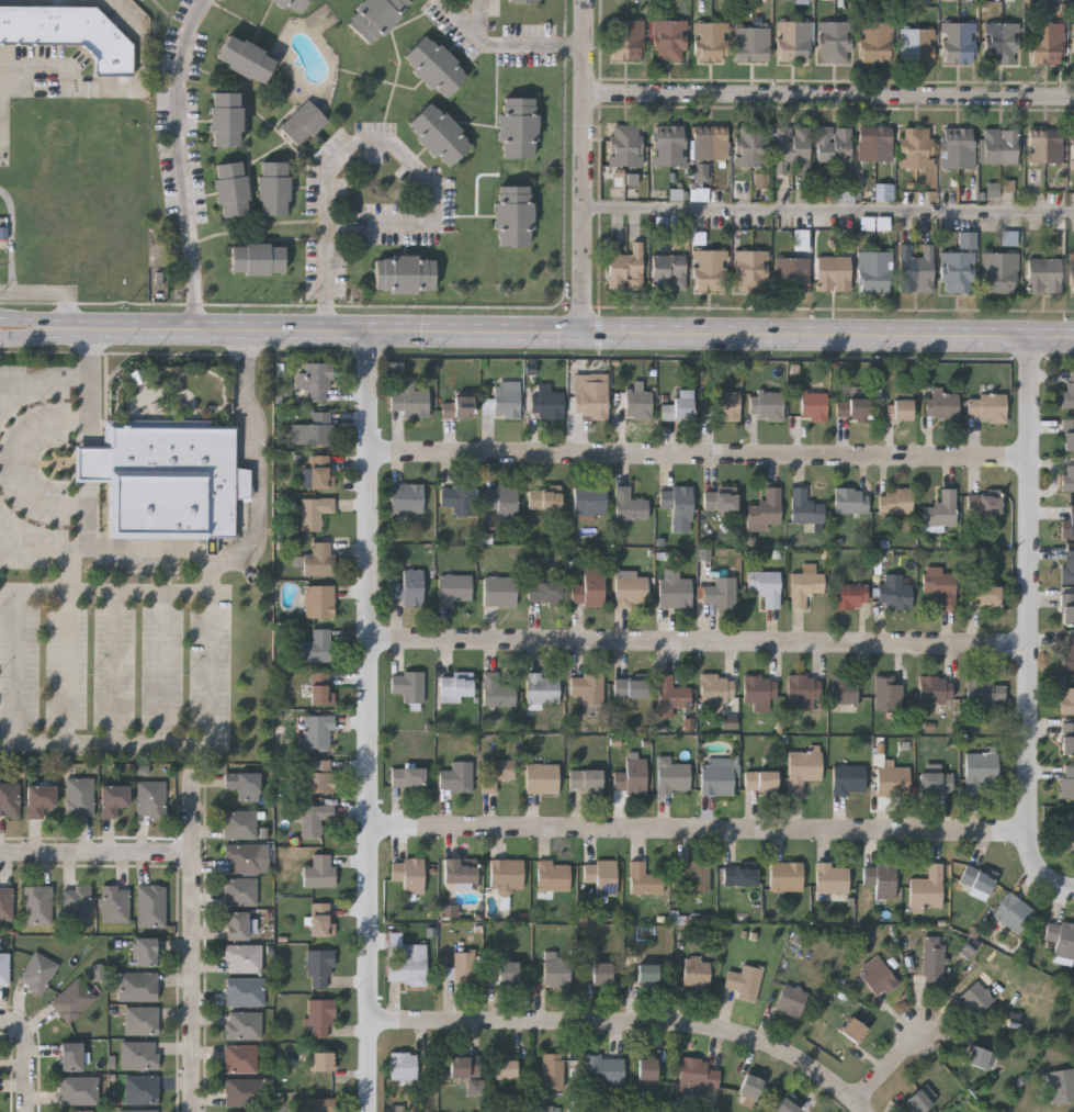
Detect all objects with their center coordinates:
building: (522, 1)
building: (802, 1)
building: (292, 3)
building: (374, 16)
road: (482, 18)
building: (69, 32)
building: (628, 42)
building: (670, 43)
building: (794, 43)
building: (836, 43)
building: (711, 44)
building: (877, 44)
road: (506, 45)
building: (959, 45)
building: (1002, 45)
building: (1048, 45)
building: (1073, 45)
building: (753, 46)
building: (917, 48)
building: (242, 56)
building: (432, 66)
road: (122, 86)
road: (830, 96)
building: (223, 117)
building: (303, 122)
building: (517, 125)
building: (438, 133)
road: (373, 143)
building: (710, 144)
building: (625, 146)
building: (834, 146)
building: (875, 146)
building: (1044, 146)
building: (669, 147)
building: (1000, 147)
building: (751, 148)
building: (792, 149)
building: (917, 149)
building: (959, 150)
building: (1073, 150)
road: (181, 162)
road: (586, 165)
building: (701, 172)
building: (272, 186)
building: (229, 187)
building: (994, 190)
building: (885, 192)
road: (829, 207)
building: (512, 214)
building: (969, 240)
building: (257, 258)
building: (625, 269)
building: (916, 270)
building: (710, 271)
building: (403, 272)
building: (751, 272)
building: (669, 273)
building: (834, 273)
building: (874, 273)
building: (958, 273)
building: (1000, 274)
building: (1072, 276)
building: (792, 277)
building: (1044, 278)
road: (48, 292)
road: (46, 318)
road: (583, 330)
road: (46, 337)
building: (315, 379)
road: (43, 380)
road: (91, 385)
building: (1067, 391)
building: (590, 397)
building: (501, 398)
building: (407, 400)
building: (545, 402)
building: (637, 403)
building: (725, 403)
building: (765, 403)
building: (677, 404)
building: (813, 404)
building: (941, 404)
building: (456, 405)
building: (986, 405)
building: (851, 406)
building: (898, 407)
building: (315, 427)
building: (1067, 433)
parking lot: (35, 452)
road: (702, 454)
road: (255, 462)
road: (91, 463)
road: (12, 465)
building: (320, 470)
building: (1067, 475)
building: (165, 483)
building: (406, 496)
building: (456, 497)
building: (542, 498)
building: (588, 498)
building: (720, 499)
building: (850, 499)
building: (894, 499)
building: (675, 501)
building: (501, 502)
building: (629, 505)
building: (804, 506)
building: (985, 507)
building: (312, 509)
building: (764, 509)
building: (940, 509)
road: (91, 516)
building: (1067, 523)
road: (105, 551)
building: (316, 558)
building: (1067, 565)
road: (1032, 583)
building: (764, 585)
building: (939, 585)
building: (407, 586)
building: (453, 586)
building: (804, 586)
building: (587, 588)
building: (630, 588)
building: (498, 589)
building: (543, 591)
building: (720, 591)
building: (893, 591)
building: (674, 592)
building: (849, 595)
building: (982, 595)
building: (318, 599)
building: (1067, 613)
road: (702, 643)
building: (317, 644)
road: (67, 649)
building: (1067, 651)
parking lot: (116, 669)
road: (117, 670)
road: (162, 671)
building: (407, 684)
building: (454, 685)
building: (541, 686)
building: (586, 686)
building: (629, 686)
building: (320, 687)
building: (498, 687)
building: (715, 687)
building: (934, 687)
building: (802, 688)
building: (984, 690)
building: (671, 692)
building: (759, 692)
building: (843, 692)
building: (886, 692)
building: (1067, 699)
road: (372, 720)
building: (731, 722)
building: (312, 729)
building: (1067, 743)
road: (36, 746)
building: (802, 766)
building: (144, 771)
building: (979, 771)
building: (495, 772)
building: (317, 774)
building: (455, 774)
building: (716, 774)
building: (630, 775)
building: (672, 776)
building: (406, 777)
building: (541, 777)
building: (584, 778)
building: (848, 778)
building: (760, 779)
building: (892, 779)
building: (1066, 779)
building: (936, 782)
building: (241, 784)
building: (78, 796)
building: (112, 798)
building: (149, 798)
building: (9, 799)
building: (37, 799)
building: (313, 817)
building: (238, 823)
road: (701, 830)
building: (1069, 833)
road: (95, 855)
building: (245, 857)
building: (318, 869)
road: (1040, 869)
building: (407, 873)
building: (459, 873)
building: (506, 874)
building: (692, 874)
building: (599, 875)
building: (739, 875)
building: (785, 875)
building: (550, 877)
building: (832, 877)
building: (880, 877)
building: (642, 878)
building: (976, 879)
building: (927, 887)
building: (238, 890)
building: (5, 902)
building: (75, 902)
building: (113, 902)
building: (36, 903)
building: (149, 905)
building: (450, 911)
building: (1011, 911)
building: (319, 918)
building: (235, 924)
road: (194, 939)
building: (1061, 940)
building: (144, 951)
building: (241, 956)
building: (931, 961)
building: (406, 963)
building: (317, 966)
building: (463, 966)
building: (3, 968)
building: (554, 969)
building: (506, 970)
building: (694, 971)
building: (36, 973)
building: (600, 973)
building: (875, 974)
building: (646, 975)
building: (742, 980)
building: (136, 985)
building: (242, 990)
building: (976, 993)
building: (70, 999)
building: (789, 999)
building: (318, 1015)
building: (140, 1020)
road: (631, 1022)
building: (241, 1024)
building: (853, 1029)
building: (69, 1055)
building: (138, 1055)
building: (979, 1056)
road: (29, 1057)
building: (239, 1058)
building: (320, 1059)
building: (464, 1064)
building: (402, 1065)
building: (504, 1067)
road: (890, 1068)
building: (551, 1069)
building: (602, 1069)
building: (645, 1070)
building: (697, 1074)
building: (1061, 1083)
building: (474, 1087)
building: (747, 1088)
building: (77, 1089)
building: (140, 1089)
building: (241, 1091)
building: (922, 1100)
building: (316, 1104)
building: (784, 1104)
building: (80, 1111)
building: (136, 1111)
building: (251, 1111)

